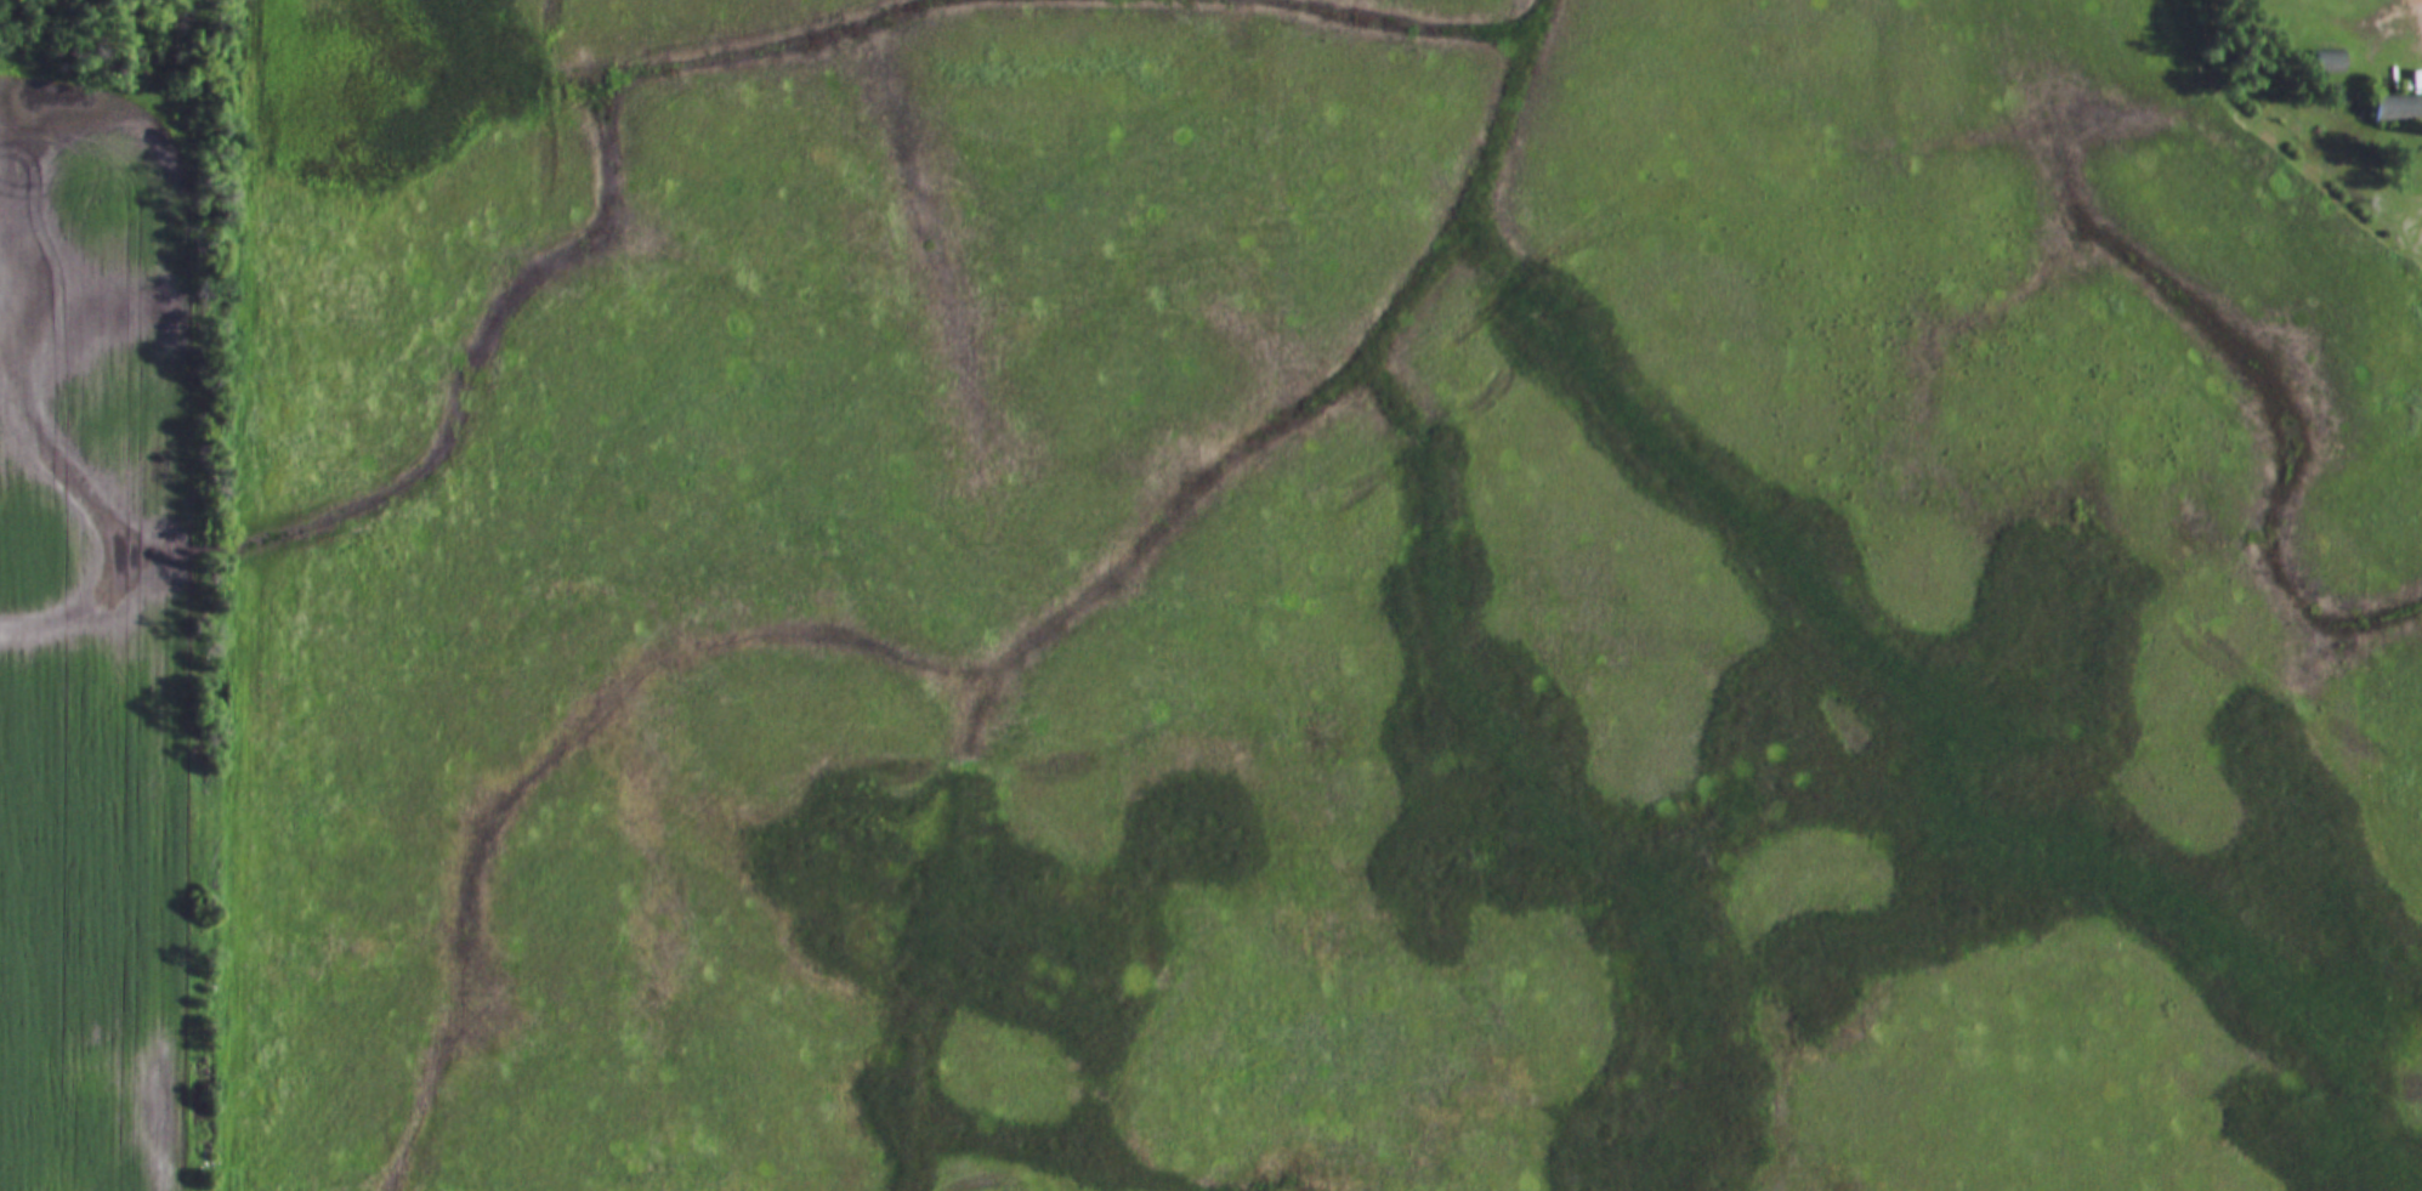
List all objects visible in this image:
road: (2397, 44)
building: (2327, 62)
building: (2394, 109)

